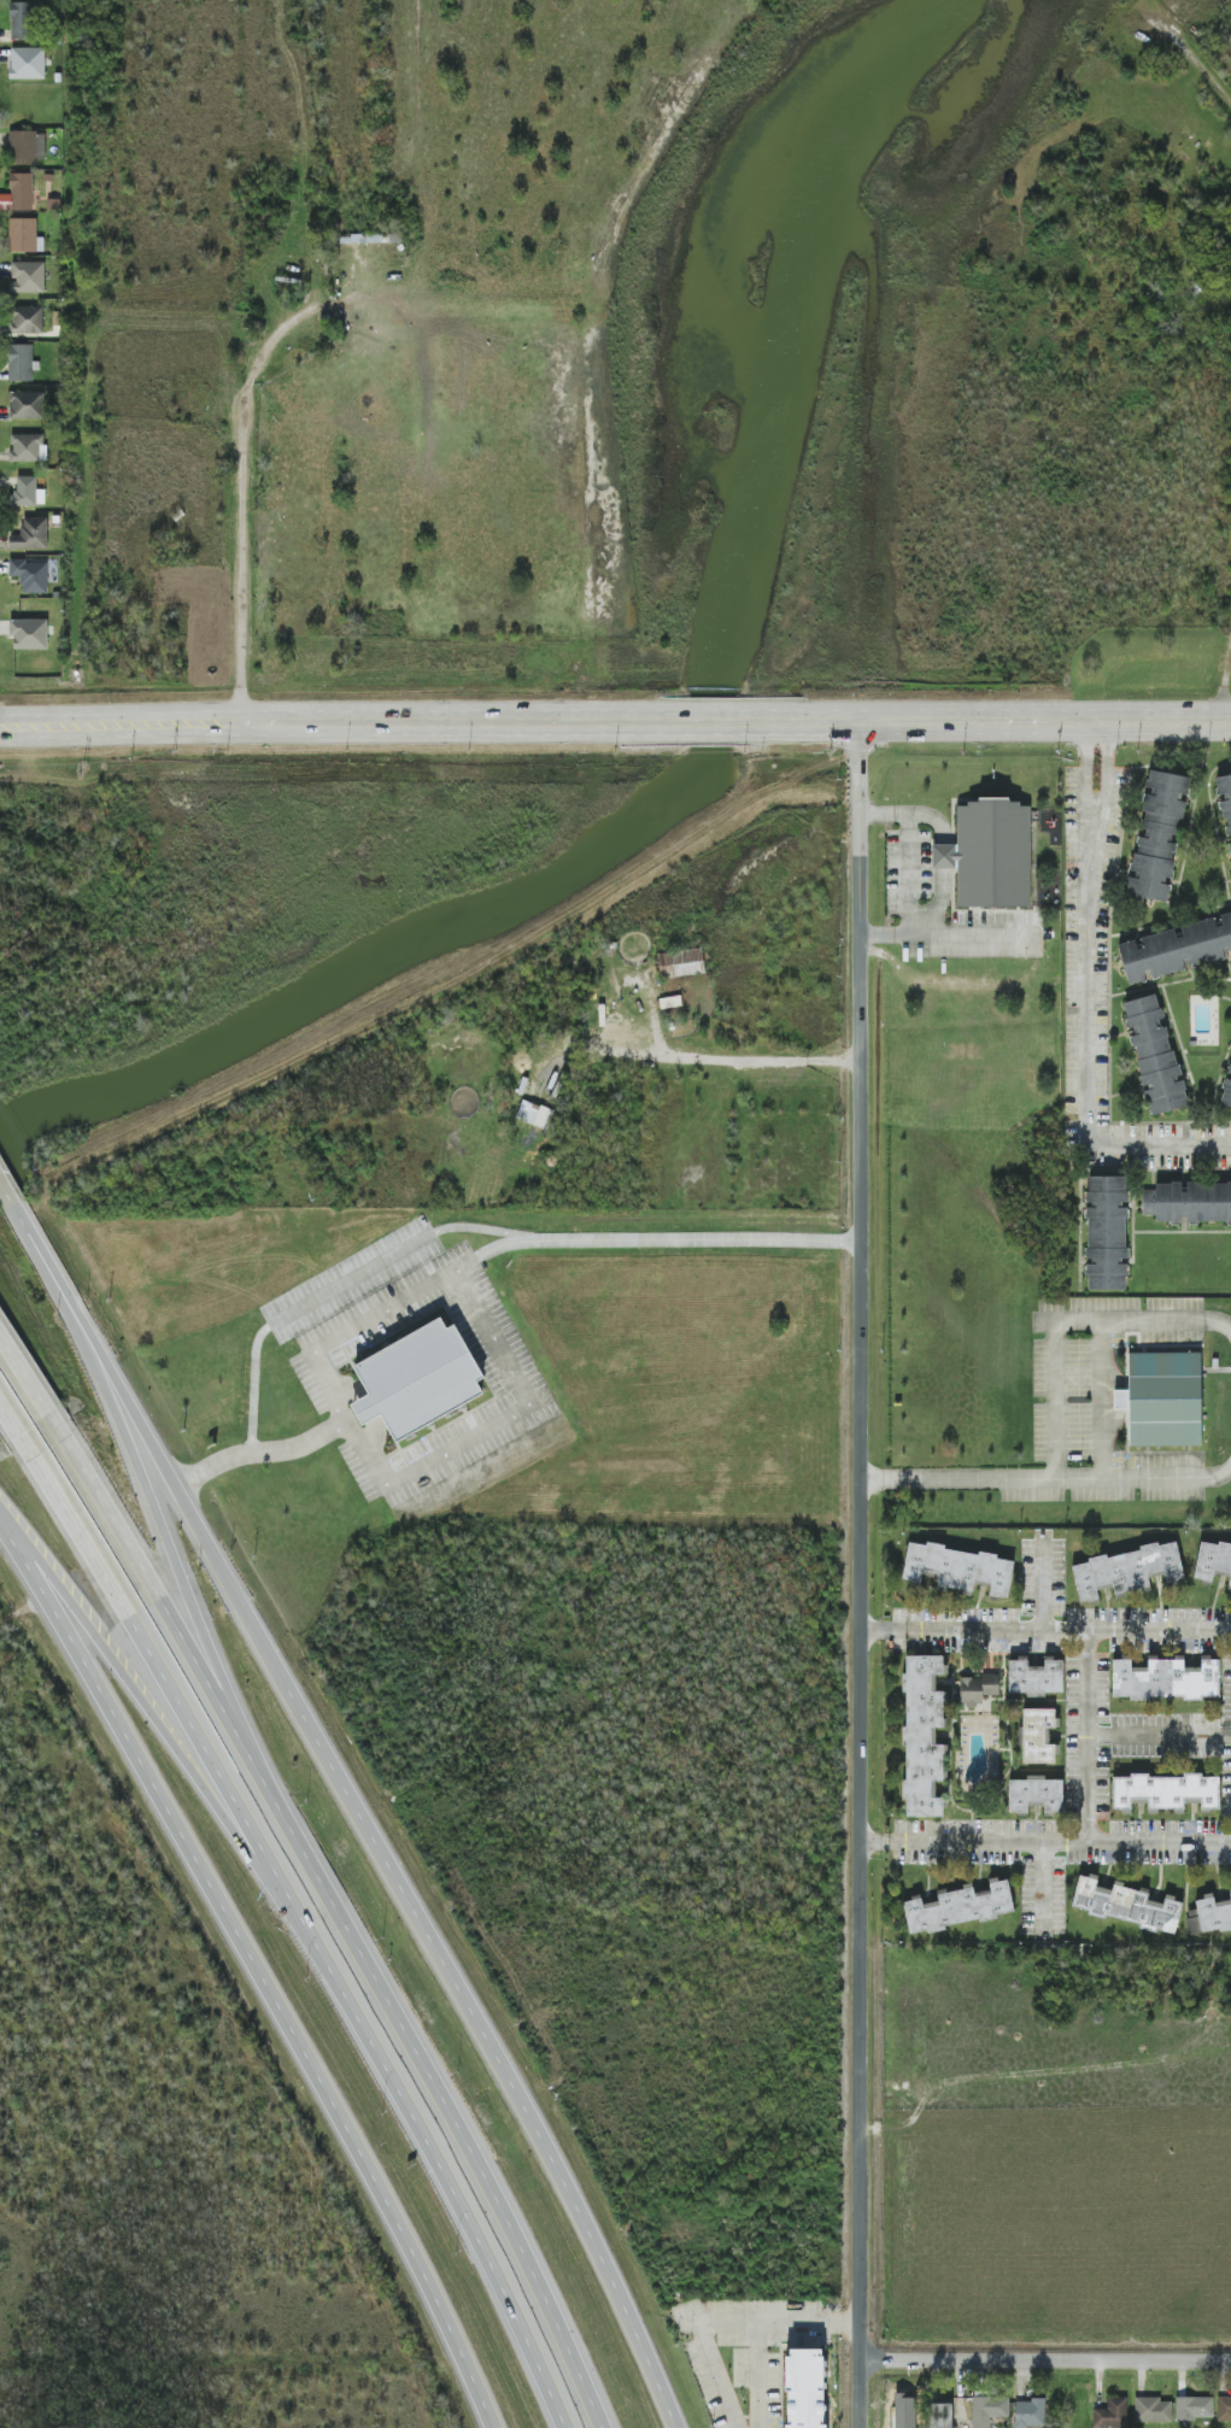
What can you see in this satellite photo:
building: (19, 20)
building: (28, 63)
building: (27, 147)
building: (22, 190)
building: (24, 235)
building: (28, 277)
building: (27, 319)
building: (20, 363)
building: (27, 405)
building: (28, 447)
road: (242, 483)
building: (28, 492)
building: (31, 534)
building: (31, 575)
building: (29, 634)
road: (1225, 679)
road: (1015, 719)
road: (715, 720)
road: (435, 721)
road: (121, 722)
road: (1088, 774)
road: (1106, 775)
building: (1225, 800)
building: (1157, 835)
building: (990, 855)
road: (940, 857)
road: (911, 875)
road: (972, 932)
building: (1176, 949)
building: (681, 963)
building: (1154, 1055)
road: (1088, 1058)
road: (737, 1061)
building: (1226, 1092)
building: (534, 1114)
road: (6, 1192)
building: (1189, 1202)
road: (655, 1231)
building: (1106, 1233)
road: (39, 1250)
road: (336, 1280)
road: (1167, 1319)
road: (353, 1321)
road: (25, 1379)
building: (418, 1379)
road: (523, 1397)
building: (1162, 1400)
road: (1102, 1415)
road: (10, 1421)
road: (254, 1442)
road: (365, 1442)
road: (1167, 1477)
road: (177, 1491)
building: (1212, 1561)
building: (959, 1568)
building: (1127, 1571)
road: (861, 1573)
road: (181, 1574)
road: (1042, 1587)
road: (1045, 1631)
road: (178, 1634)
building: (1036, 1677)
building: (1165, 1679)
building: (977, 1689)
building: (922, 1736)
building: (1038, 1736)
road: (1089, 1736)
road: (1160, 1737)
road: (229, 1784)
building: (1163, 1791)
building: (1036, 1794)
road: (223, 1819)
road: (1045, 1843)
road: (1043, 1888)
building: (1230, 1893)
building: (1125, 1905)
building: (960, 1907)
building: (1209, 1916)
road: (259, 1969)
road: (499, 2052)
road: (461, 2136)
road: (499, 2282)
road: (760, 2323)
road: (709, 2348)
road: (1045, 2356)
building: (805, 2388)
building: (1224, 2408)
building: (1195, 2409)
building: (989, 2410)
building: (1153, 2410)
building: (1031, 2412)
building: (1112, 2414)
building: (940, 2416)

